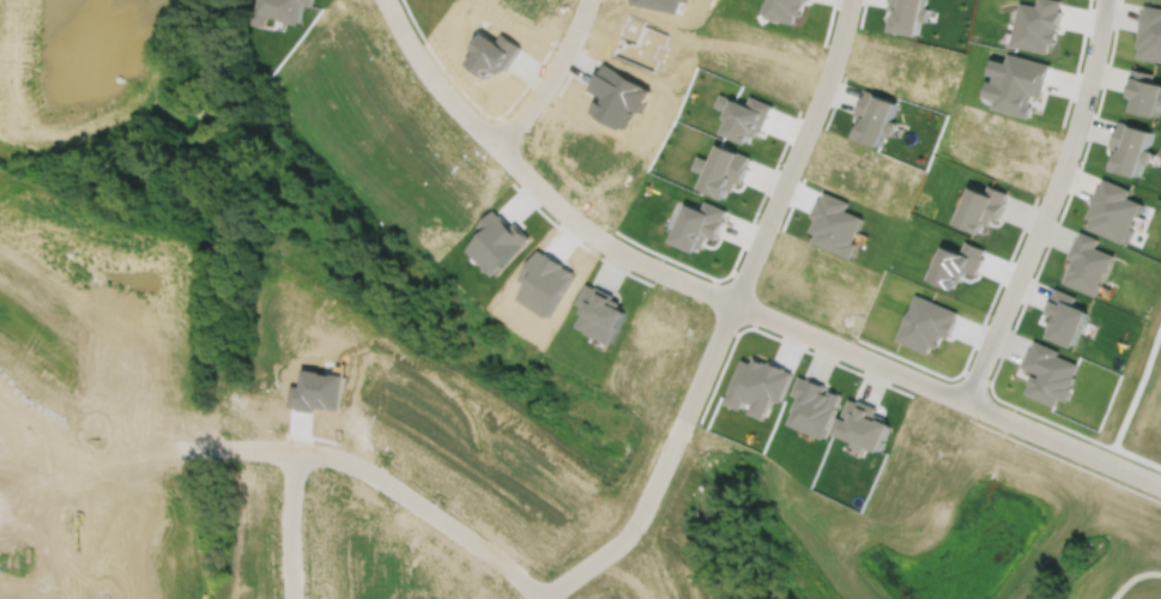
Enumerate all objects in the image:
building: (909, 13)
building: (1038, 24)
building: (1150, 32)
road: (549, 77)
building: (1020, 81)
building: (1144, 91)
building: (875, 116)
building: (1135, 146)
building: (722, 169)
road: (1047, 204)
building: (984, 206)
building: (1117, 208)
road: (773, 210)
building: (1090, 262)
road: (730, 299)
building: (600, 311)
building: (1051, 373)
building: (815, 406)
building: (864, 424)
road: (141, 444)
road: (1065, 460)
road: (364, 466)
road: (80, 520)
road: (631, 520)
road: (1131, 577)

